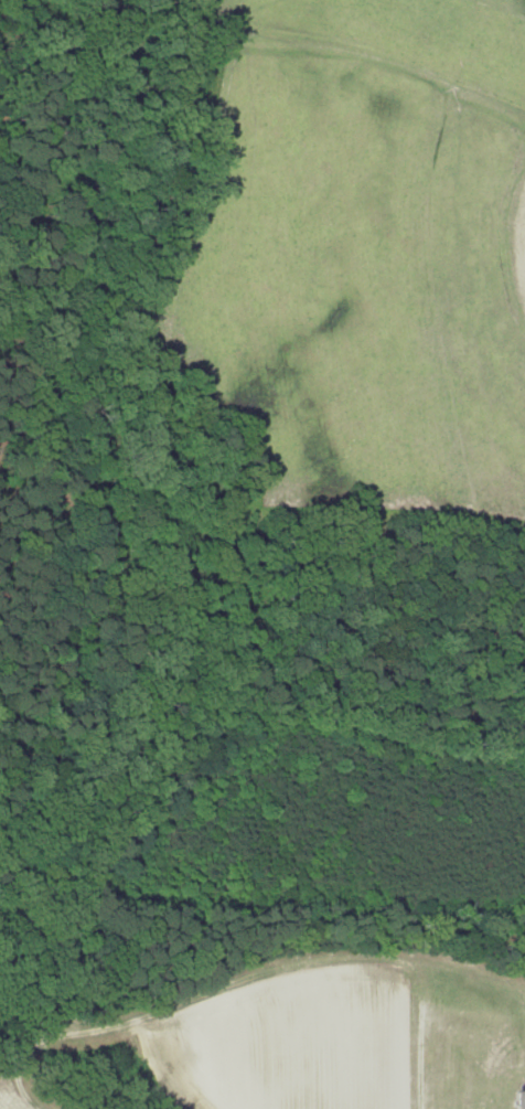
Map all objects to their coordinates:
building: (519, 1099)

